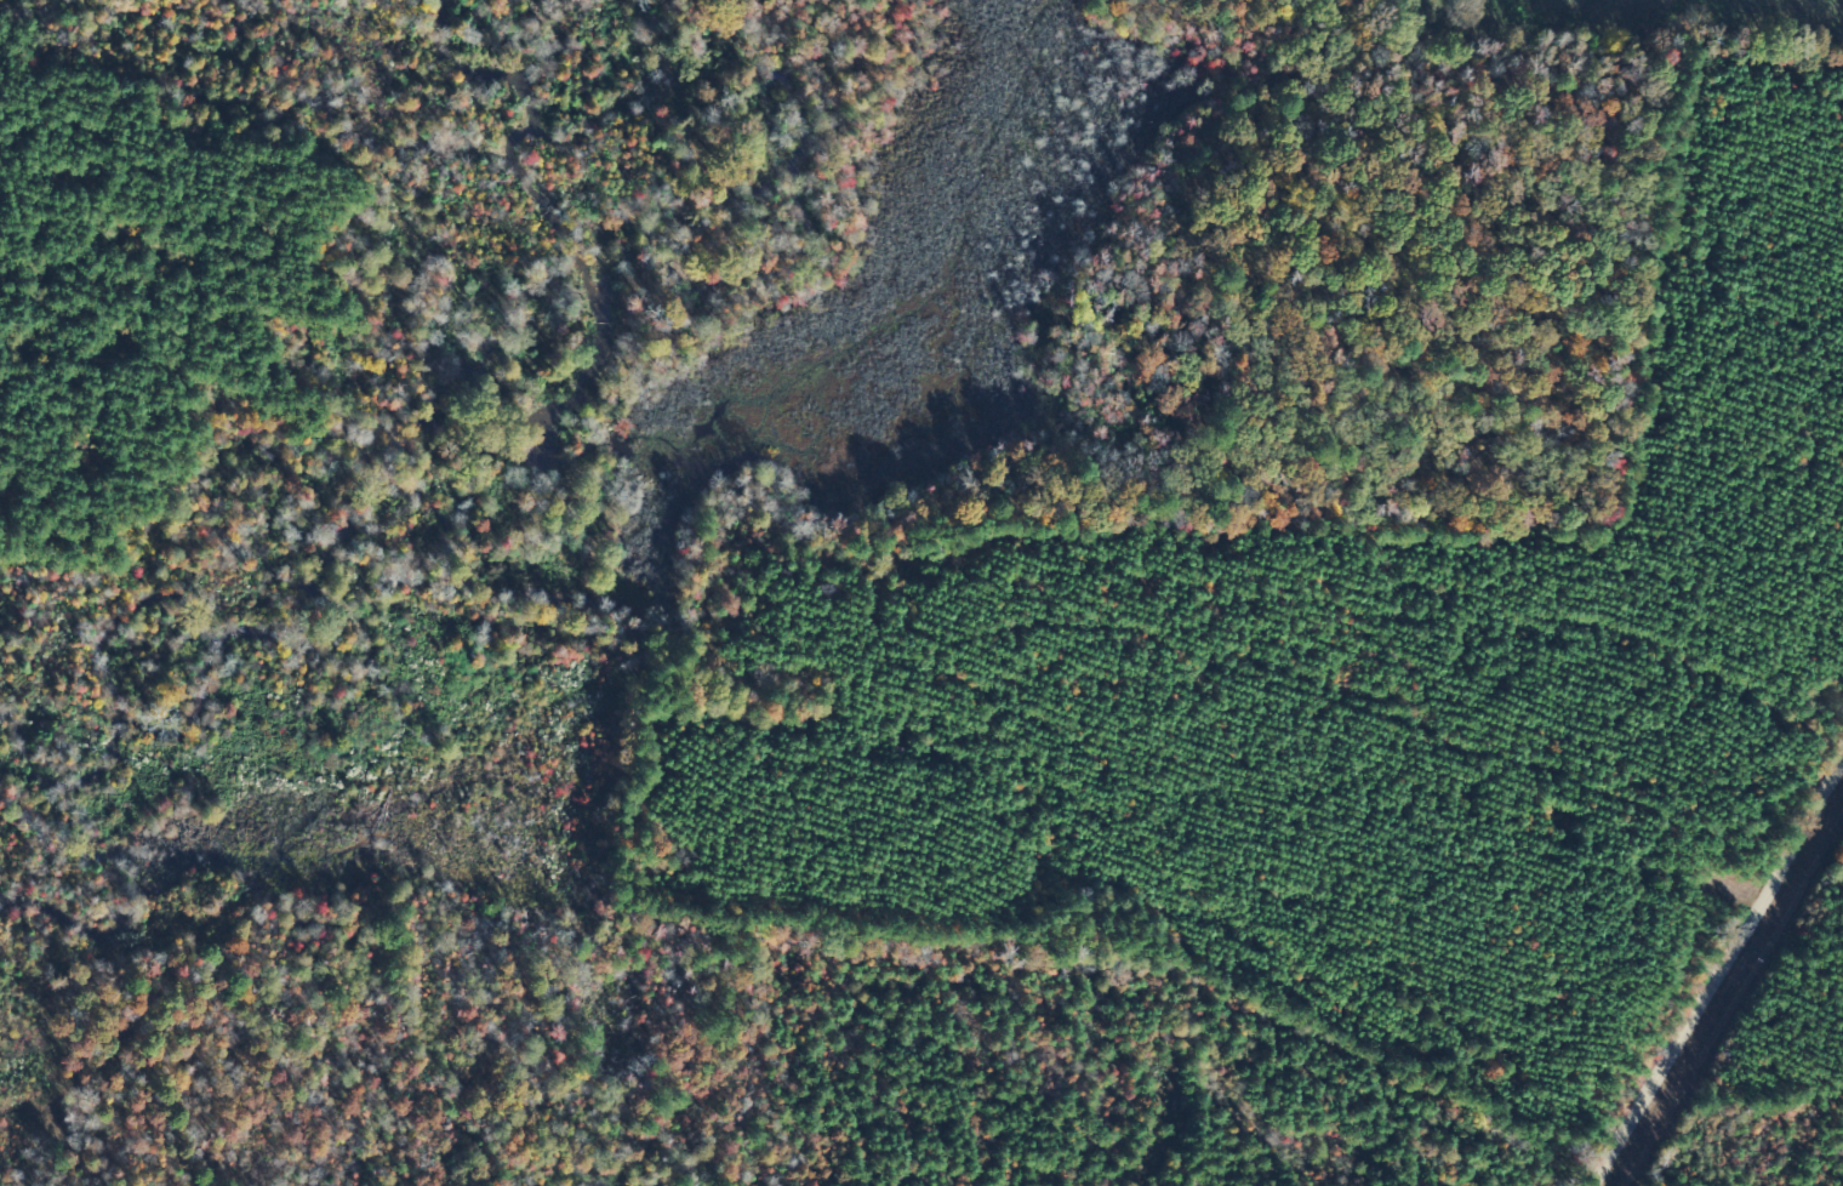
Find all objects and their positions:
road: (1763, 1050)

